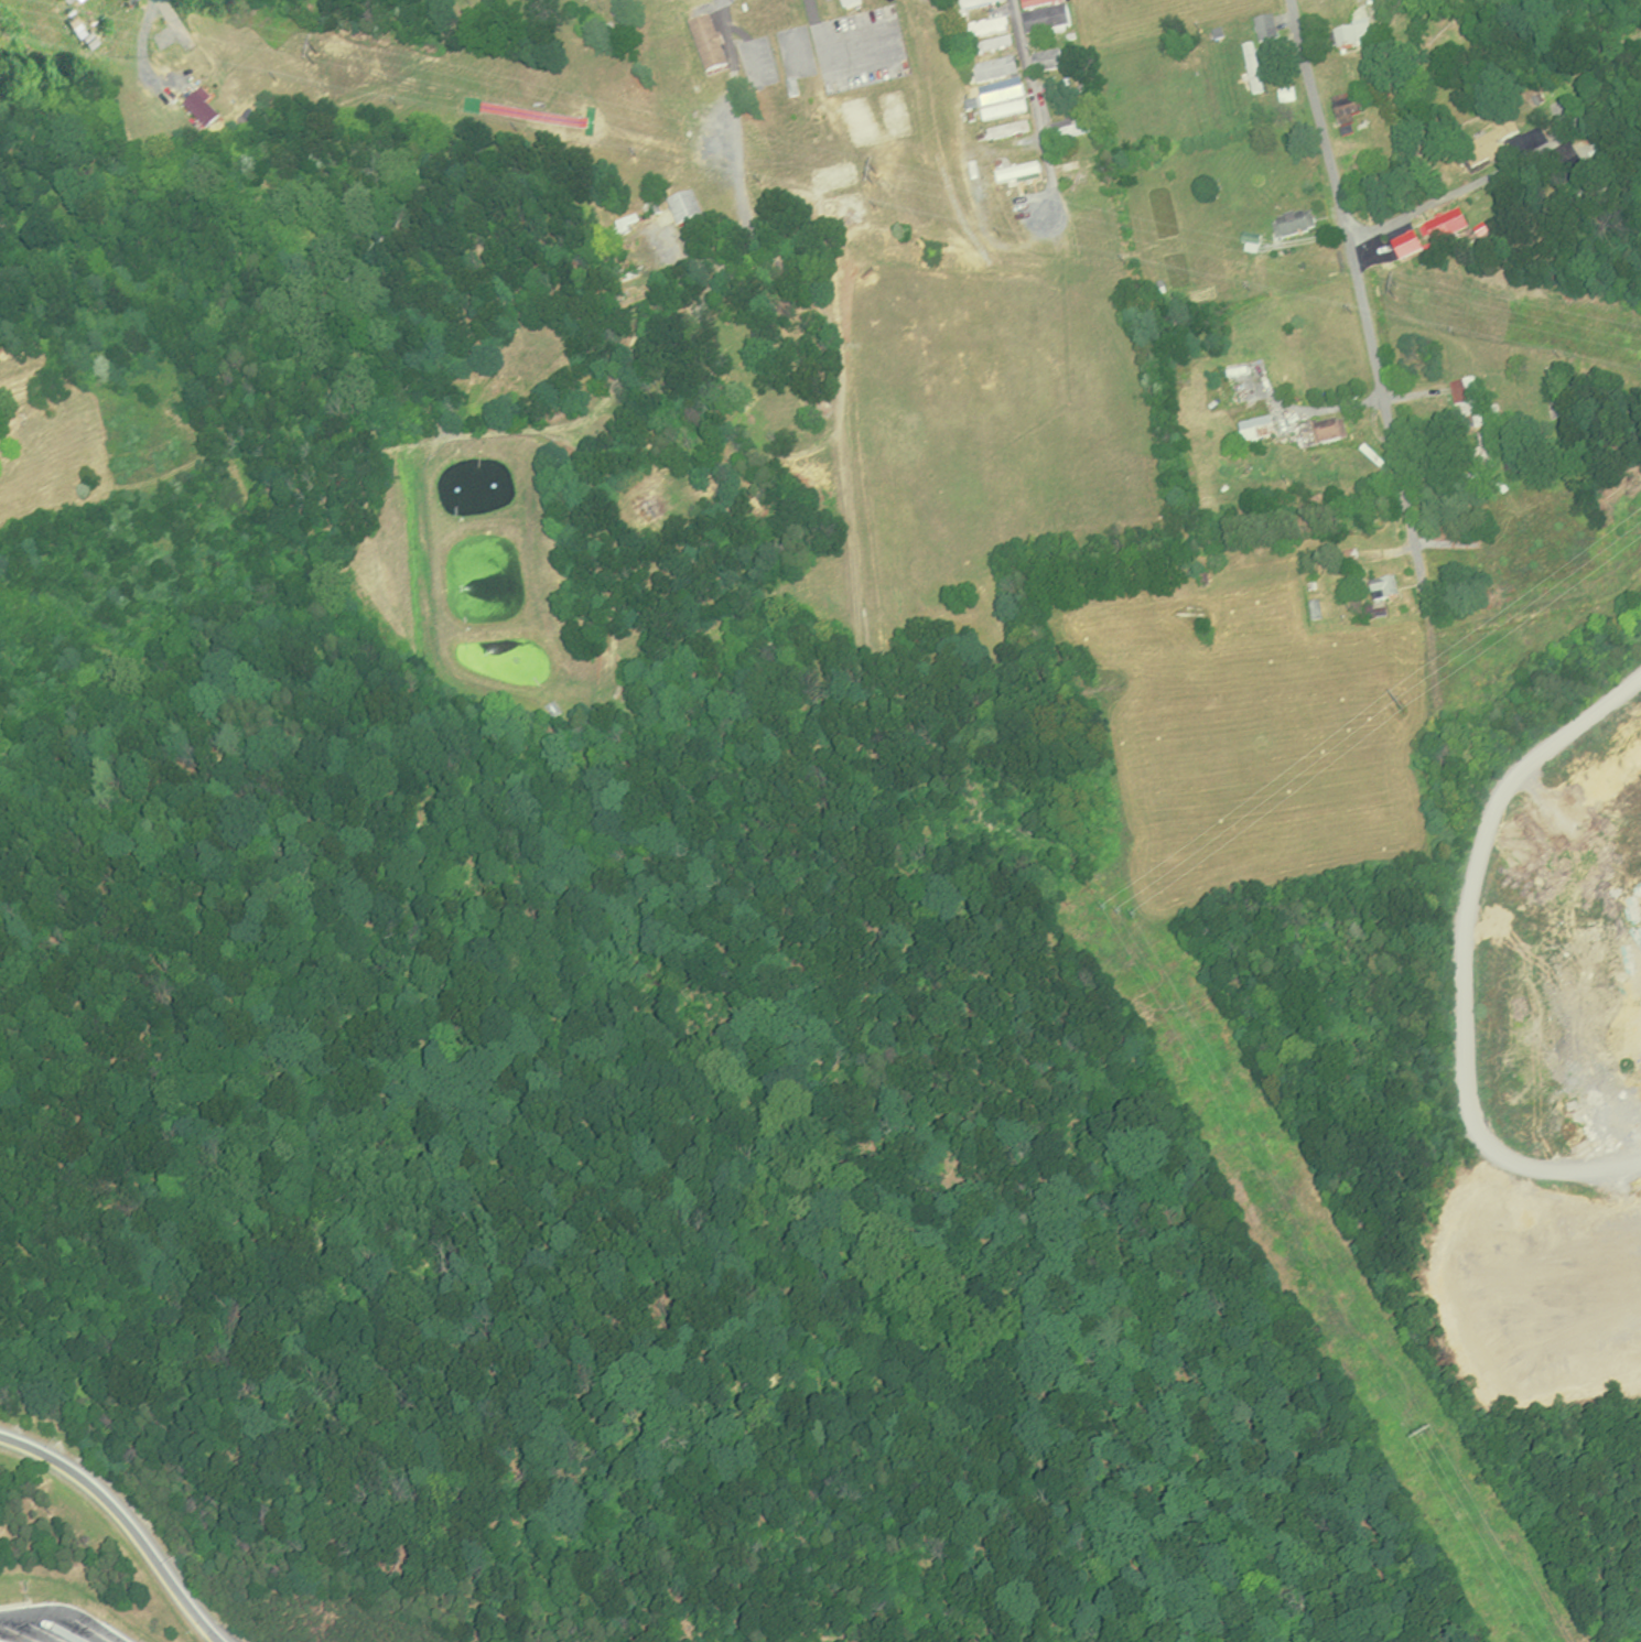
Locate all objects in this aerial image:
road: (176, 22)
road: (824, 46)
power tower: (314, 57)
road: (1040, 96)
road: (745, 118)
road: (1496, 174)
power tower: (868, 177)
power tower: (1395, 291)
road: (1360, 294)
power tower: (1401, 706)
power tower: (1120, 917)
road: (1462, 972)
road: (1608, 1164)
power tower: (1425, 1440)
road: (125, 1520)
road: (65, 1611)
parking lot: (55, 1624)

